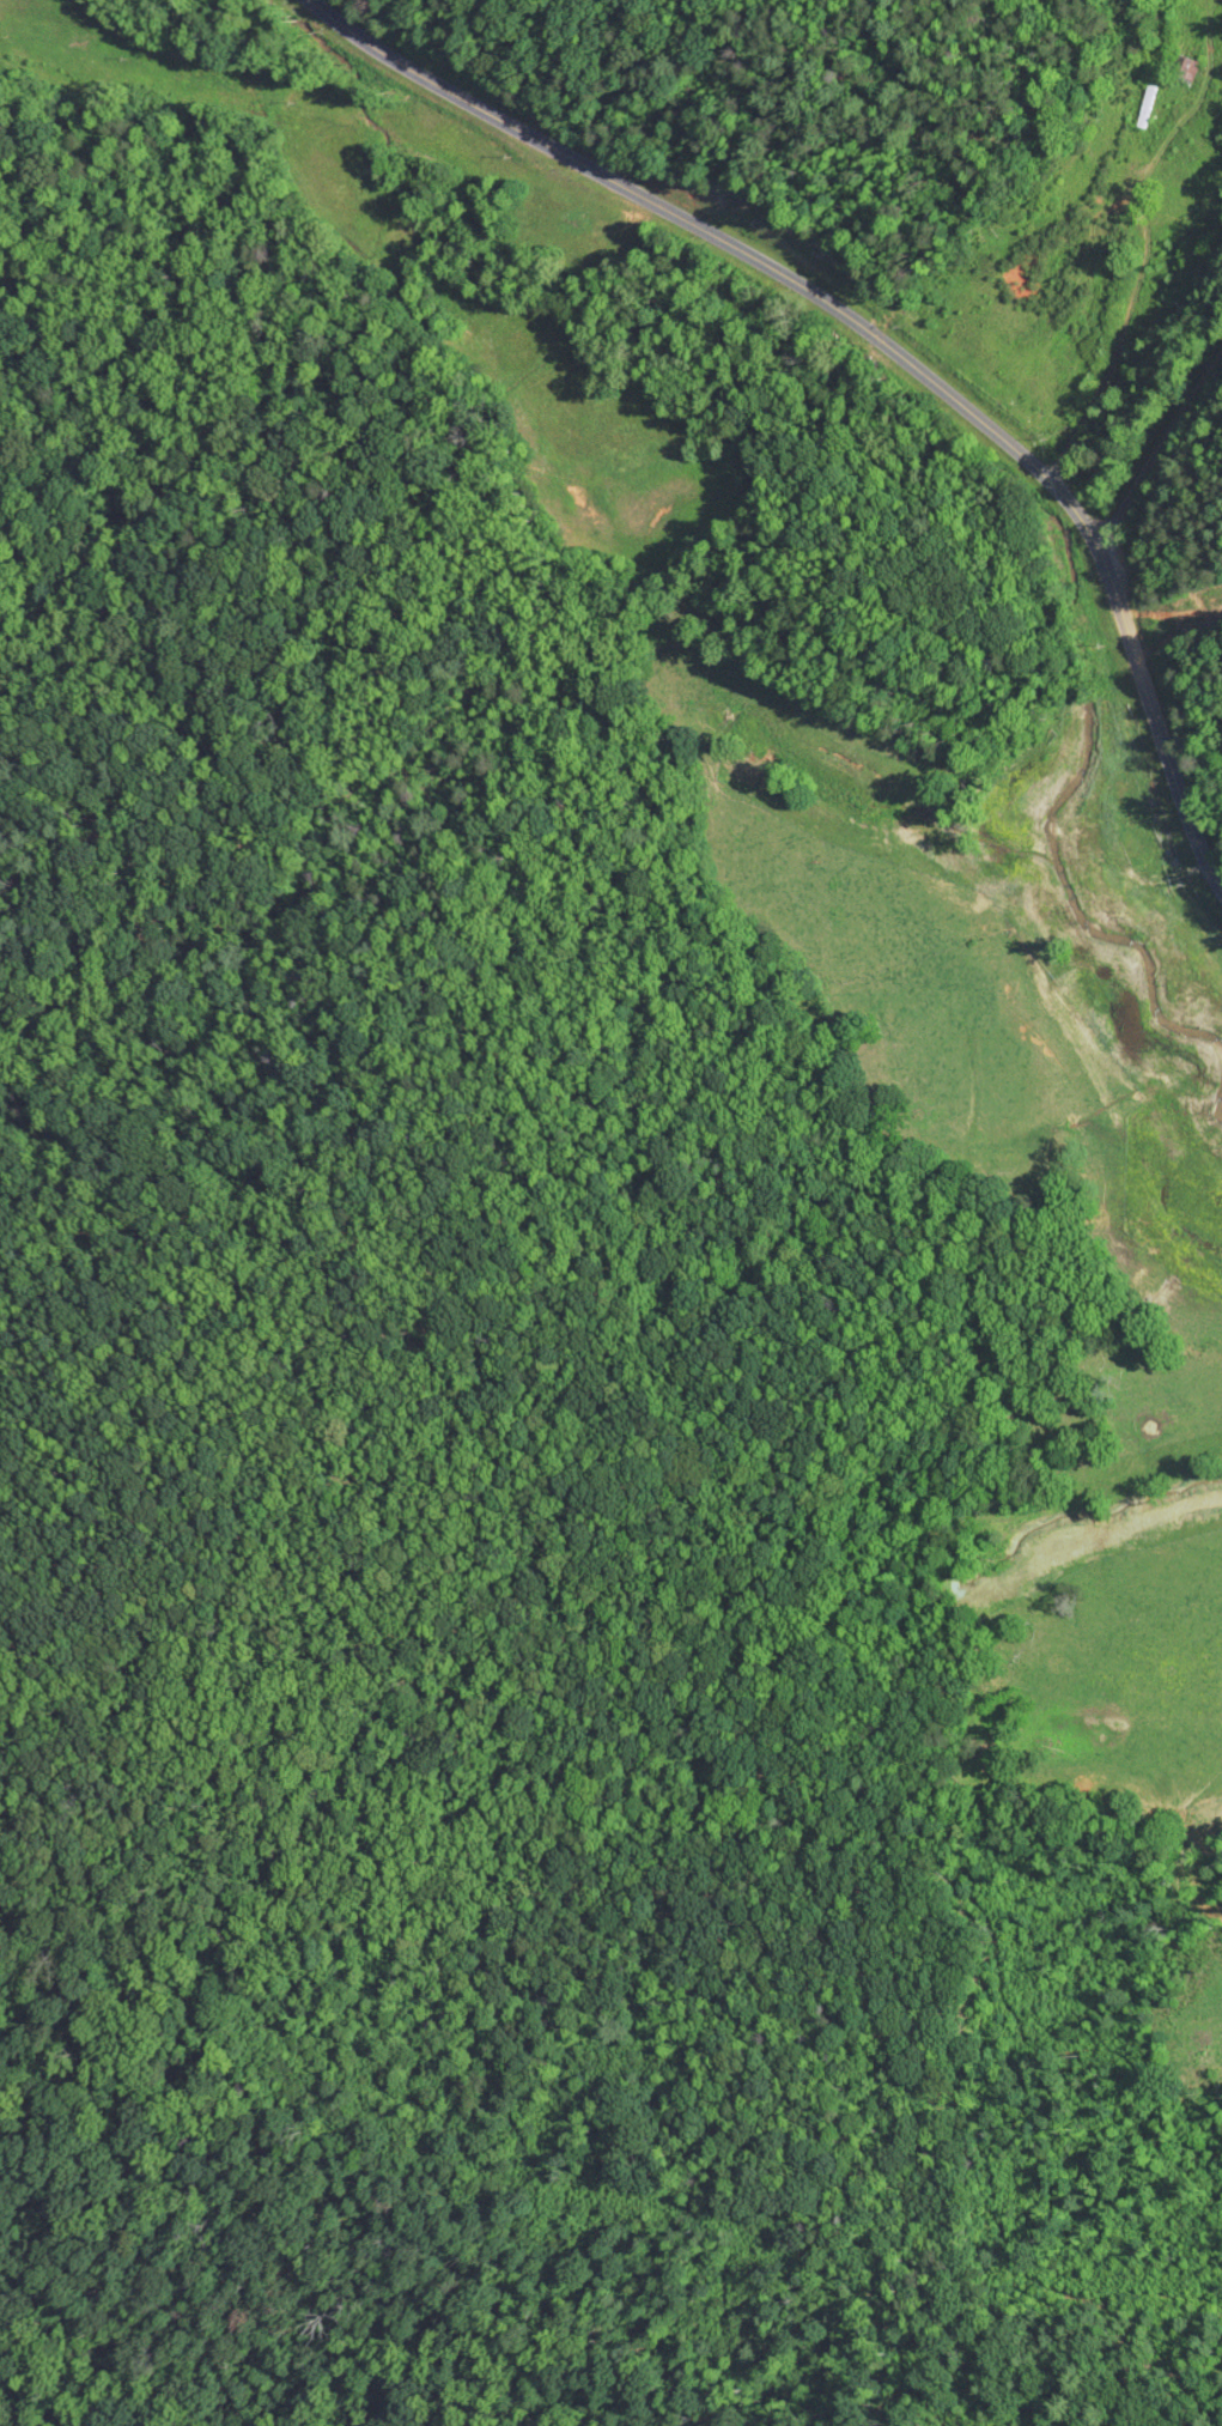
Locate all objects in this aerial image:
building: (1178, 68)
building: (1142, 105)
road: (880, 344)
road: (1160, 448)

